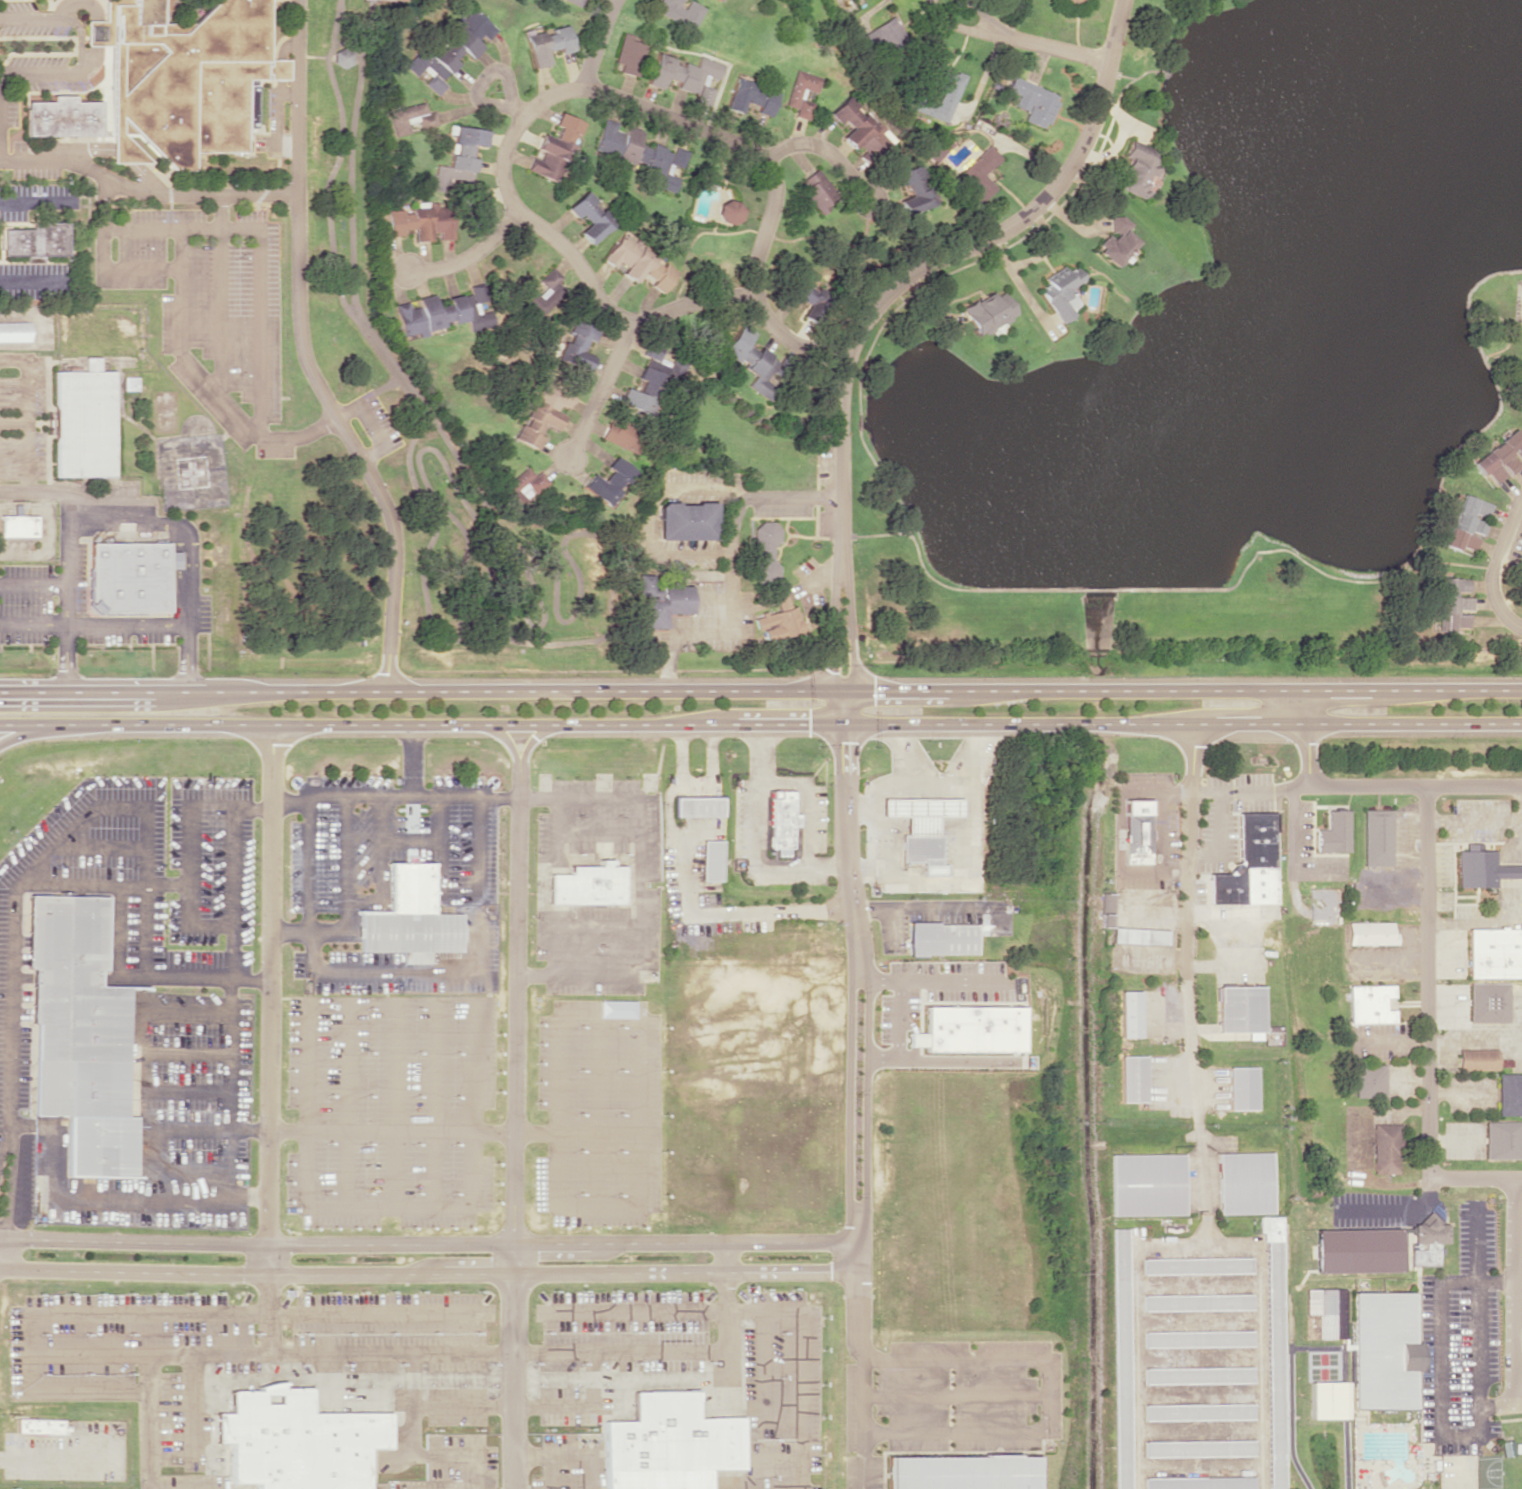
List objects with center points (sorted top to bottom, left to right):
building: (575, 1)
building: (1068, 1)
road: (338, 5)
road: (62, 7)
building: (680, 12)
parking lot: (28, 19)
road: (97, 36)
road: (595, 42)
road: (1022, 43)
building: (546, 44)
road: (80, 47)
building: (449, 48)
building: (629, 54)
building: (341, 57)
road: (488, 71)
parking lot: (44, 73)
building: (684, 75)
building: (184, 78)
road: (570, 90)
building: (940, 91)
building: (801, 92)
road: (288, 93)
road: (279, 95)
building: (748, 96)
building: (1033, 101)
parking lot: (272, 107)
parking lot: (8, 110)
building: (63, 116)
building: (424, 120)
building: (857, 126)
parking lot: (261, 142)
parking lot: (17, 145)
building: (553, 146)
road: (114, 147)
building: (936, 147)
road: (825, 151)
building: (638, 153)
road: (350, 159)
road: (333, 161)
building: (1136, 169)
parking lot: (34, 172)
building: (979, 172)
building: (912, 188)
building: (816, 189)
road: (146, 191)
road: (37, 199)
parking lot: (37, 200)
building: (729, 211)
building: (588, 216)
building: (421, 221)
road: (180, 227)
building: (36, 238)
building: (1113, 241)
road: (467, 256)
road: (102, 259)
building: (636, 263)
parking lot: (37, 280)
road: (36, 282)
building: (542, 292)
building: (1059, 292)
road: (218, 293)
building: (804, 296)
road: (885, 297)
building: (987, 311)
building: (441, 312)
building: (14, 331)
road: (258, 332)
building: (575, 344)
road: (303, 357)
building: (750, 360)
road: (203, 379)
building: (645, 380)
building: (130, 382)
road: (377, 390)
road: (598, 391)
road: (26, 412)
building: (542, 412)
road: (13, 421)
building: (84, 421)
road: (370, 424)
park: (436, 430)
building: (621, 433)
road: (405, 451)
building: (1500, 457)
road: (416, 464)
road: (459, 465)
helipad: (189, 473)
building: (607, 481)
building: (523, 485)
road: (33, 492)
road: (120, 501)
building: (685, 520)
building: (1465, 522)
building: (17, 523)
road: (123, 524)
road: (579, 532)
building: (764, 551)
road: (460, 565)
road: (1498, 568)
building: (127, 577)
road: (33, 582)
road: (473, 584)
road: (67, 592)
building: (658, 601)
building: (1452, 604)
road: (188, 606)
road: (458, 609)
road: (541, 611)
building: (778, 619)
road: (94, 626)
road: (499, 635)
road: (554, 691)
road: (1314, 691)
traffic signals: (844, 707)
road: (1314, 723)
road: (553, 724)
road: (31, 733)
road: (529, 743)
road: (508, 745)
road: (709, 754)
road: (678, 755)
road: (411, 759)
road: (1367, 792)
road: (345, 794)
road: (290, 803)
building: (696, 806)
road: (706, 807)
road: (714, 807)
road: (251, 808)
road: (690, 808)
road: (698, 808)
road: (665, 810)
building: (779, 821)
building: (918, 828)
building: (1135, 830)
road: (555, 832)
road: (596, 834)
building: (1335, 836)
road: (411, 839)
building: (1378, 842)
road: (101, 845)
road: (440, 848)
road: (49, 853)
building: (709, 859)
road: (346, 862)
building: (1248, 864)
road: (382, 867)
building: (1481, 871)
road: (188, 880)
road: (104, 884)
building: (586, 884)
road: (638, 889)
road: (935, 908)
building: (1104, 908)
road: (729, 913)
building: (410, 915)
road: (1182, 920)
road: (570, 923)
road: (886, 930)
road: (308, 931)
road: (117, 932)
building: (939, 937)
building: (1373, 938)
building: (1139, 939)
building: (1495, 956)
road: (460, 972)
road: (228, 974)
road: (184, 980)
road: (1427, 989)
parking lot: (143, 993)
road: (269, 999)
building: (1371, 1007)
building: (1491, 1007)
parking lot: (389, 1008)
building: (617, 1008)
building: (1239, 1008)
parking lot: (598, 1013)
road: (857, 1013)
building: (1127, 1013)
road: (597, 1017)
building: (967, 1028)
building: (78, 1034)
road: (181, 1051)
road: (135, 1062)
building: (1479, 1064)
building: (1130, 1078)
building: (1368, 1080)
building: (1240, 1087)
road: (181, 1088)
building: (1510, 1099)
road: (346, 1102)
road: (396, 1102)
road: (433, 1102)
road: (557, 1111)
road: (596, 1111)
road: (188, 1131)
road: (515, 1131)
road: (431, 1132)
road: (4, 1134)
building: (1505, 1144)
road: (636, 1151)
building: (1385, 1153)
road: (9, 1175)
building: (1243, 1182)
building: (1145, 1184)
road: (1475, 1185)
road: (101, 1196)
road: (389, 1208)
building: (1427, 1240)
road: (428, 1244)
road: (724, 1257)
building: (1197, 1264)
road: (428, 1274)
building: (1195, 1302)
building: (1326, 1310)
road: (763, 1311)
road: (158, 1312)
road: (266, 1314)
building: (1197, 1338)
road: (725, 1339)
building: (1383, 1351)
road: (375, 1352)
building: (1275, 1353)
road: (943, 1358)
building: (1120, 1360)
building: (1197, 1373)
parking lot: (406, 1379)
road: (323, 1380)
road: (762, 1381)
road: (953, 1395)
building: (1327, 1399)
road: (531, 1407)
road: (188, 1410)
building: (1198, 1411)
road: (146, 1421)
road: (863, 1422)
building: (37, 1425)
road: (989, 1431)
building: (295, 1440)
building: (668, 1443)
building: (1199, 1447)
road: (412, 1453)
road: (569, 1453)
road: (59, 1455)
road: (770, 1458)
road: (550, 1471)
building: (959, 1472)
building: (1199, 1482)
road: (723, 1483)

